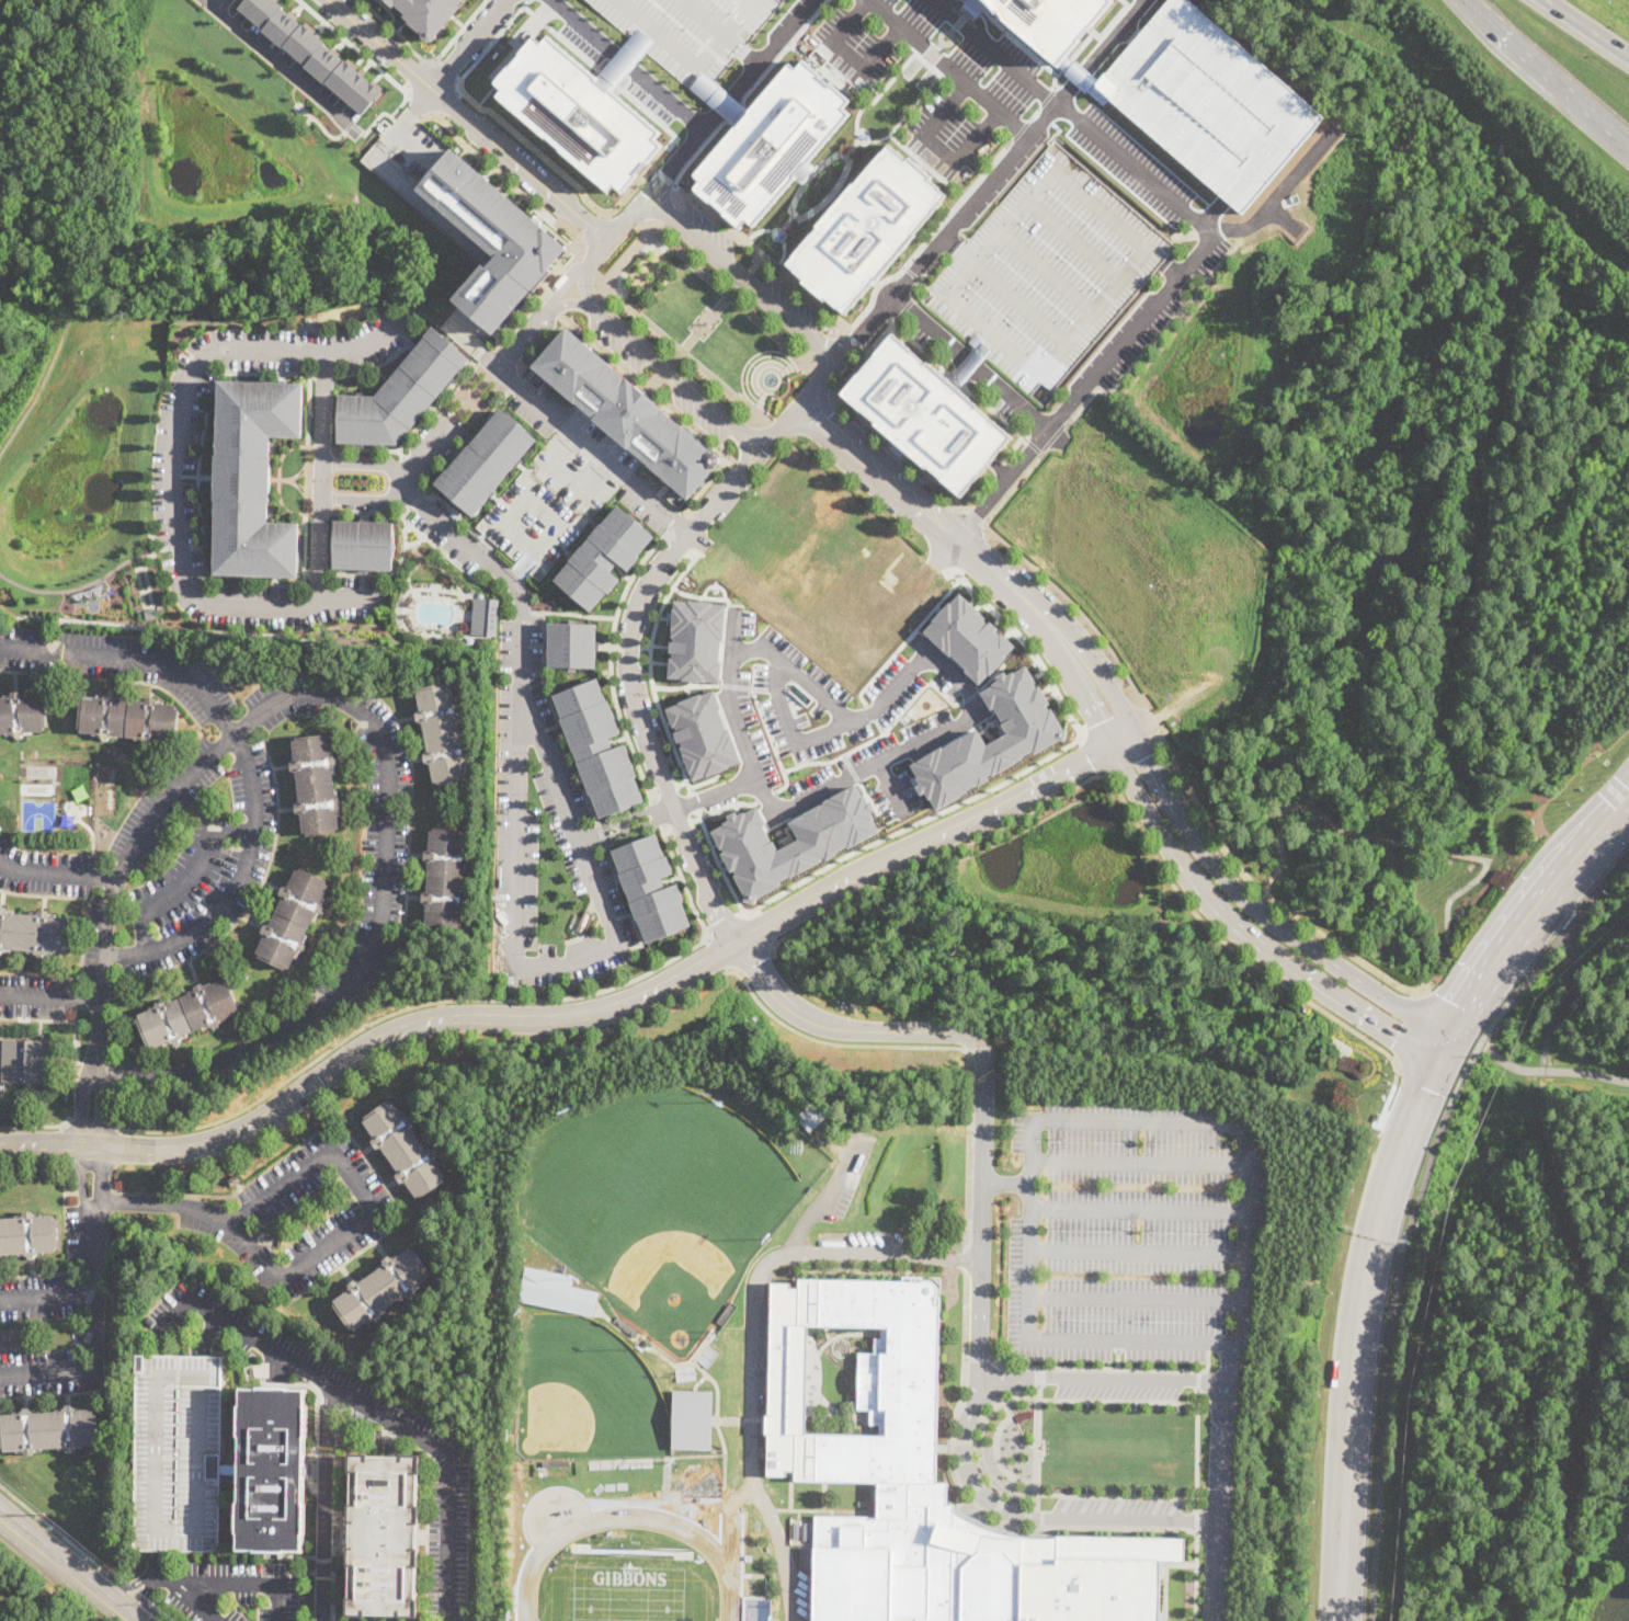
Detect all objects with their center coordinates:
road: (1462, 2)
road: (216, 3)
road: (886, 13)
building: (428, 14)
building: (1051, 21)
road: (583, 26)
road: (1588, 26)
road: (459, 30)
road: (397, 32)
building: (691, 32)
parking garage: (691, 32)
road: (492, 39)
road: (465, 43)
road: (354, 46)
road: (775, 47)
road: (1003, 49)
road: (1100, 49)
building: (312, 52)
road: (751, 58)
road: (624, 61)
road: (282, 66)
road: (836, 68)
road: (947, 68)
road: (446, 70)
road: (1546, 77)
road: (994, 78)
road: (965, 81)
parking lot: (977, 91)
building: (1206, 96)
parking garage: (1206, 96)
building: (719, 99)
road: (670, 101)
road: (421, 104)
road: (728, 106)
building: (579, 113)
road: (468, 119)
road: (1018, 129)
road: (891, 130)
road: (696, 144)
building: (771, 144)
road: (937, 149)
road: (488, 163)
road: (559, 171)
road: (1110, 184)
road: (648, 189)
road: (664, 192)
parking lot: (1185, 218)
road: (957, 220)
building: (866, 228)
road: (593, 229)
parking lot: (710, 229)
building: (493, 238)
road: (927, 238)
road: (582, 242)
road: (952, 243)
road: (1199, 253)
road: (627, 255)
road: (588, 263)
road: (1173, 267)
building: (1048, 271)
parking lot: (1048, 271)
road: (911, 273)
road: (563, 286)
parking lot: (790, 300)
road: (528, 302)
road: (570, 304)
road: (817, 307)
road: (708, 324)
road: (698, 327)
park: (713, 328)
road: (300, 329)
road: (179, 338)
road: (831, 342)
road: (546, 345)
parking lot: (619, 349)
road: (510, 356)
road: (298, 357)
road: (200, 362)
road: (841, 362)
road: (381, 363)
road: (970, 363)
road: (793, 365)
road: (522, 366)
road: (966, 366)
road: (773, 368)
road: (214, 372)
road: (381, 374)
road: (326, 375)
road: (45, 381)
road: (361, 383)
parking lot: (191, 384)
road: (838, 384)
road: (1116, 385)
road: (650, 387)
road: (967, 388)
building: (401, 393)
road: (474, 397)
road: (833, 401)
road: (762, 403)
road: (309, 410)
road: (629, 410)
building: (627, 411)
parking lot: (696, 413)
building: (925, 413)
road: (207, 416)
road: (814, 420)
road: (602, 429)
road: (414, 430)
road: (321, 446)
road: (594, 449)
road: (745, 452)
road: (400, 454)
road: (760, 456)
road: (335, 459)
building: (486, 461)
road: (174, 463)
road: (413, 465)
road: (446, 466)
road: (379, 471)
road: (299, 472)
road: (321, 475)
building: (254, 478)
road: (428, 478)
road: (280, 479)
road: (281, 479)
road: (307, 479)
road: (568, 479)
road: (399, 483)
road: (706, 484)
road: (298, 486)
road: (1000, 488)
road: (334, 495)
road: (1489, 496)
road: (418, 499)
road: (543, 505)
road: (334, 509)
road: (407, 512)
road: (322, 513)
road: (973, 515)
road: (674, 521)
road: (668, 537)
road: (415, 543)
building: (363, 544)
road: (433, 544)
road: (677, 546)
parking lot: (179, 547)
road: (162, 548)
road: (988, 551)
road: (418, 553)
road: (150, 555)
road: (690, 555)
building: (603, 557)
road: (432, 563)
road: (970, 564)
road: (304, 567)
road: (387, 574)
road: (71, 589)
road: (462, 598)
road: (148, 605)
building: (149, 613)
road: (573, 613)
road: (465, 614)
road: (401, 615)
building: (485, 616)
road: (505, 617)
road: (528, 621)
road: (419, 624)
road: (462, 629)
building: (968, 637)
building: (696, 640)
road: (904, 640)
road: (1024, 642)
building: (571, 644)
road: (616, 646)
road: (629, 646)
road: (645, 647)
road: (612, 660)
building: (213, 662)
road: (650, 669)
building: (226, 676)
road: (544, 676)
road: (685, 685)
road: (736, 685)
road: (522, 695)
road: (636, 700)
road: (834, 709)
building: (22, 715)
building: (128, 718)
road: (789, 728)
road: (768, 730)
road: (884, 732)
building: (443, 733)
building: (703, 734)
building: (1033, 735)
building: (597, 746)
road: (243, 755)
road: (1132, 756)
building: (146, 776)
road: (681, 783)
road: (1185, 783)
building: (316, 785)
road: (667, 786)
road: (890, 786)
road: (829, 787)
road: (654, 790)
road: (716, 792)
road: (1120, 795)
road: (768, 796)
road: (694, 800)
parking lot: (562, 802)
road: (591, 806)
road: (724, 806)
road: (658, 813)
park: (38, 814)
park: (76, 815)
road: (624, 820)
road: (681, 823)
road: (916, 823)
road: (624, 826)
road: (1276, 826)
road: (669, 830)
road: (628, 831)
building: (827, 841)
road: (1401, 842)
road: (718, 861)
road: (57, 875)
building: (446, 878)
road: (189, 882)
road: (516, 884)
building: (651, 887)
road: (1593, 892)
road: (1455, 893)
road: (627, 902)
road: (1263, 914)
road: (384, 916)
road: (1535, 916)
road: (107, 917)
building: (292, 920)
road: (722, 922)
road: (1245, 932)
building: (34, 933)
road: (717, 952)
road: (755, 960)
road: (1415, 993)
road: (49, 997)
road: (459, 998)
road: (1565, 1002)
traffic signals: (1466, 1008)
road: (584, 1012)
building: (187, 1014)
road: (1408, 1027)
road: (843, 1028)
road: (805, 1035)
traffic signals: (1397, 1036)
building: (1593, 1052)
road: (1495, 1058)
road: (1394, 1059)
building: (24, 1063)
road: (1571, 1072)
building: (846, 1073)
building: (856, 1077)
traffic signals: (1425, 1086)
building: (812, 1114)
road: (90, 1123)
road: (36, 1125)
building: (405, 1149)
road: (1140, 1164)
road: (314, 1166)
building: (233, 1180)
road: (1005, 1185)
park: (668, 1188)
road: (827, 1196)
road: (980, 1211)
road: (1139, 1212)
parking lot: (1132, 1230)
building: (29, 1235)
road: (246, 1240)
road: (1138, 1255)
road: (93, 1256)
road: (1400, 1257)
building: (383, 1289)
building: (556, 1290)
road: (47, 1295)
road: (1137, 1301)
building: (726, 1315)
road: (1358, 1321)
building: (626, 1327)
road: (205, 1332)
road: (751, 1334)
road: (1596, 1338)
road: (1234, 1343)
road: (1229, 1363)
road: (1106, 1368)
road: (49, 1370)
road: (1197, 1379)
road: (1223, 1380)
park: (590, 1386)
road: (369, 1404)
building: (692, 1419)
building: (512, 1423)
building: (763, 1424)
building: (48, 1429)
road: (1196, 1448)
building: (178, 1450)
parking garage: (178, 1450)
building: (556, 1464)
building: (887, 1466)
building: (272, 1470)
road: (324, 1500)
power tower: (45, 1512)
road: (1034, 1517)
road: (1196, 1519)
road: (57, 1530)
building: (384, 1536)
road: (48, 1551)
road: (153, 1559)
building: (748, 1559)
track: (726, 1564)
road: (1195, 1576)
building: (1097, 1578)
road: (126, 1584)
road: (247, 1584)
road: (333, 1584)
road: (130, 1589)
park: (628, 1593)
road: (145, 1594)
road: (185, 1595)
road: (115, 1606)
road: (160, 1611)

